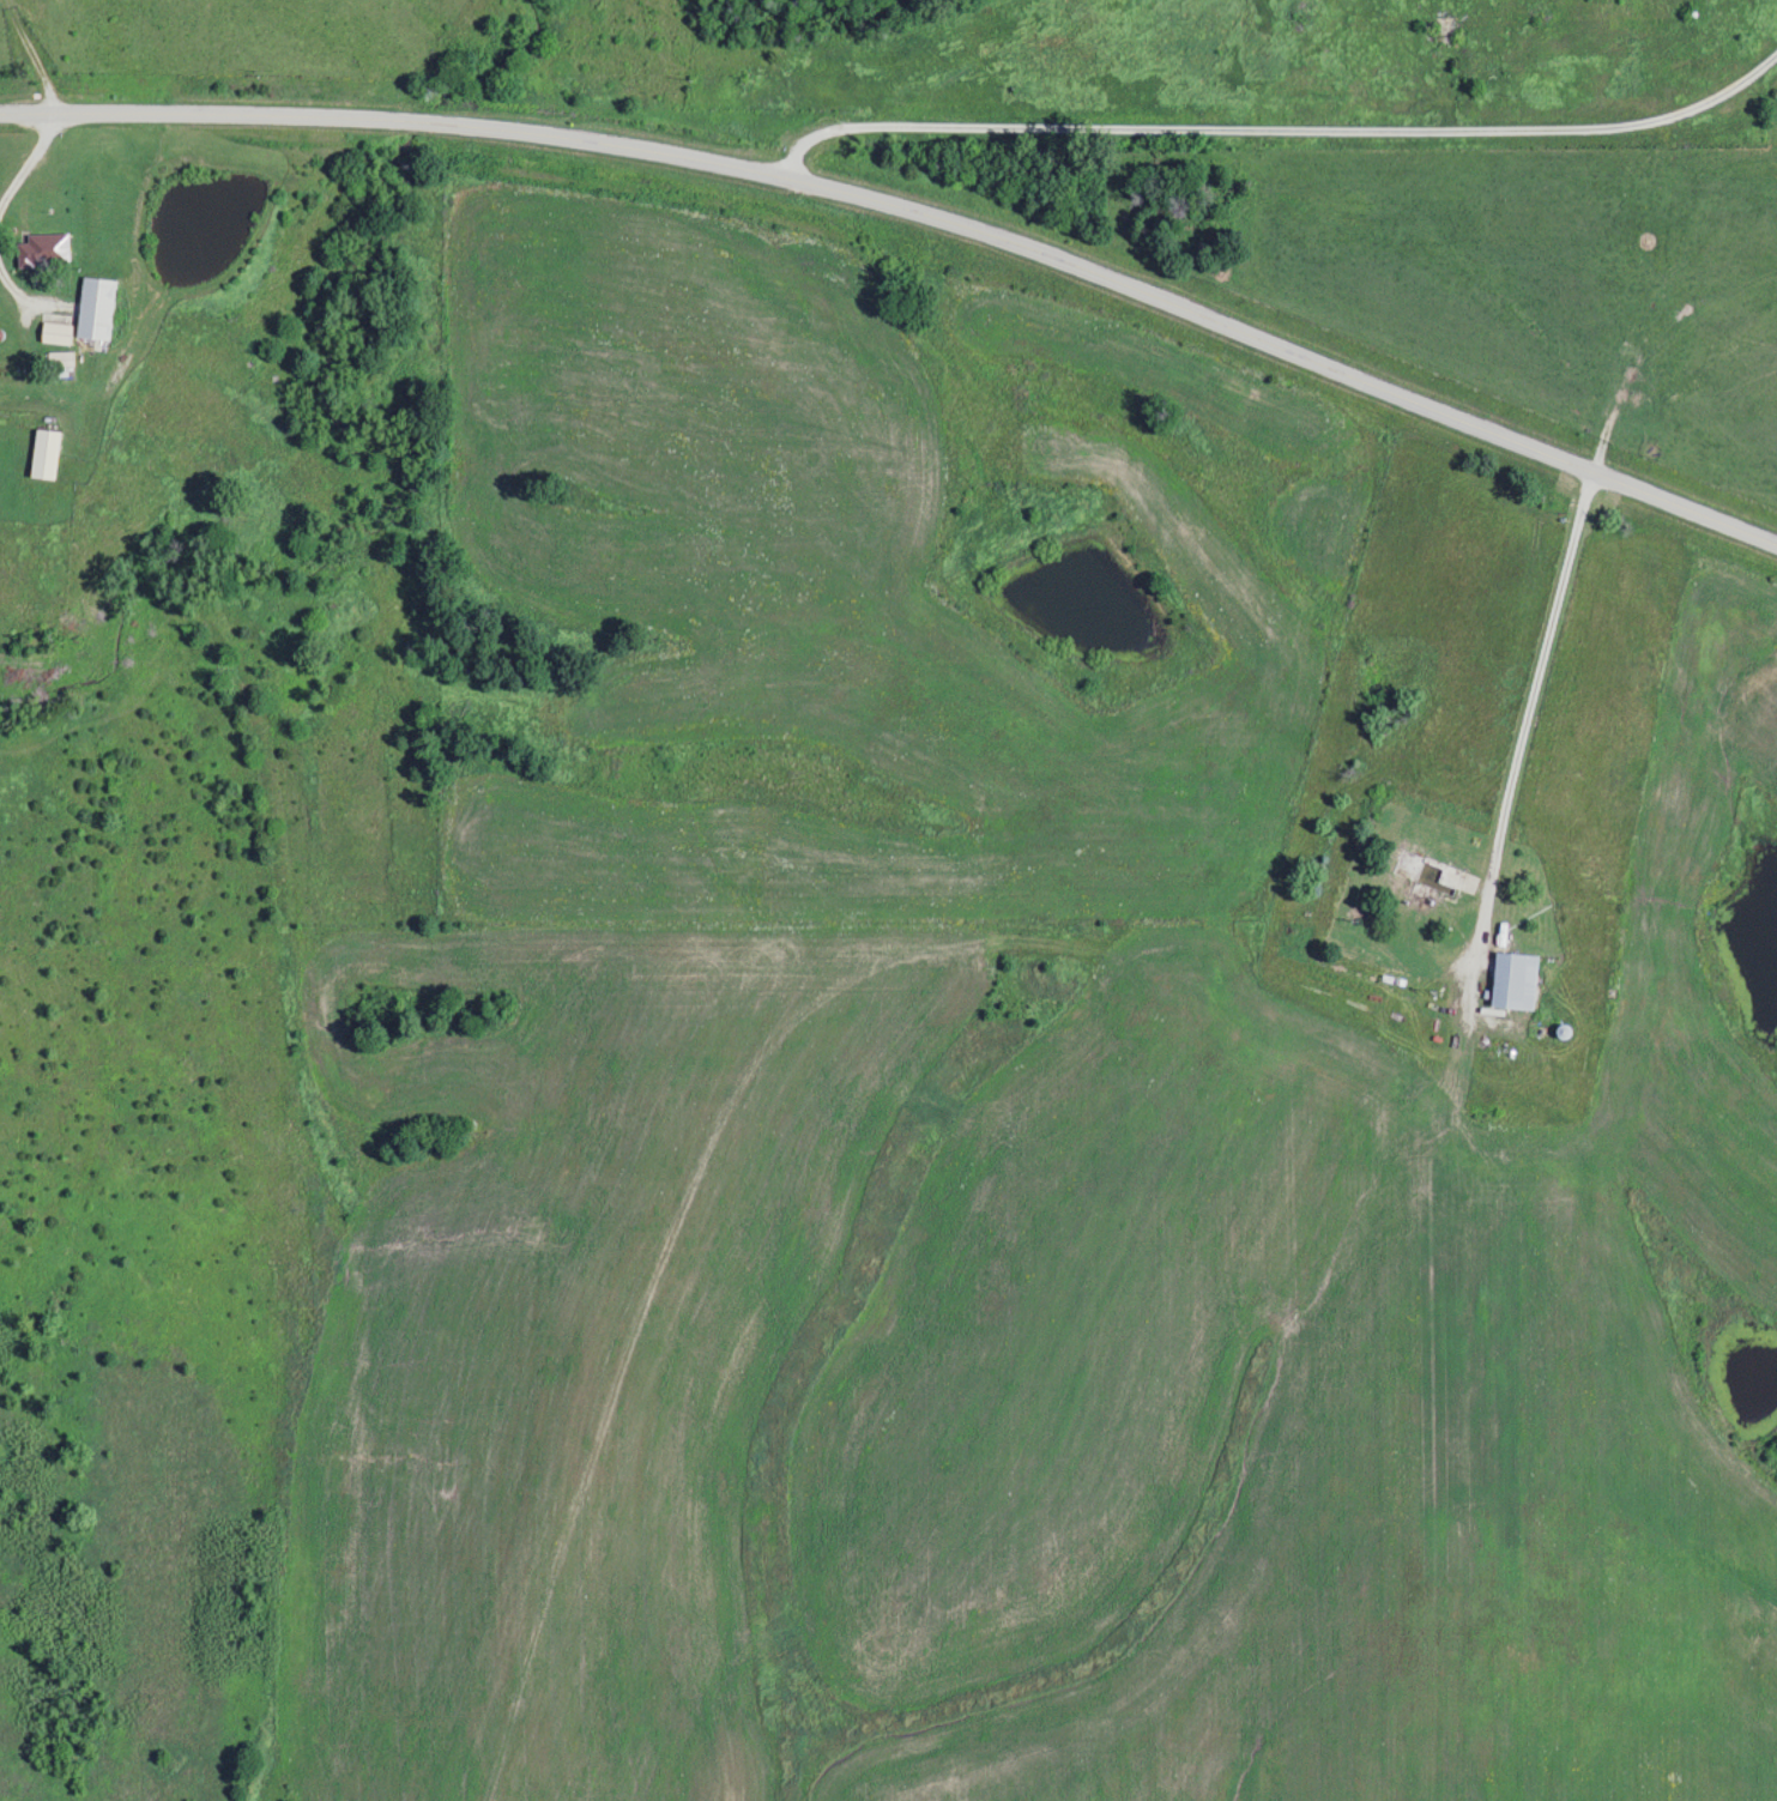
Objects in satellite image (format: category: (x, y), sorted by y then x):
road: (1403, 79)
road: (1276, 126)
road: (30, 164)
road: (917, 207)
building: (42, 250)
building: (93, 308)
building: (54, 332)
road: (22, 357)
building: (59, 363)
building: (42, 454)
road: (1511, 769)
building: (1425, 872)
building: (1512, 980)

